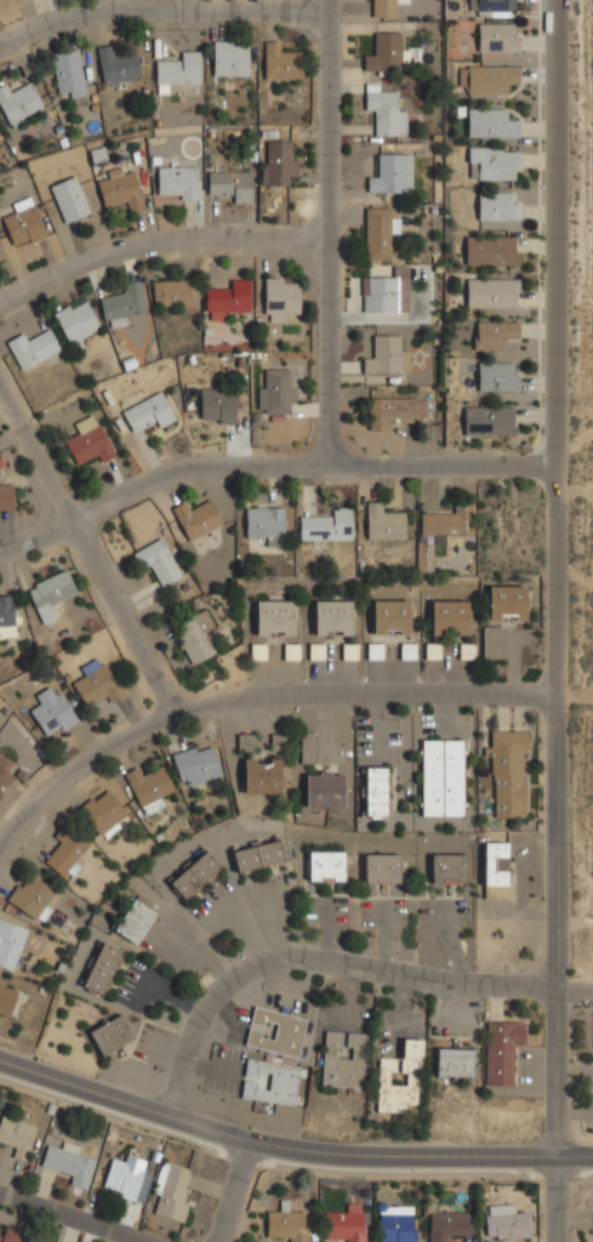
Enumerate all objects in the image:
road: (161, 6)
building: (494, 7)
building: (384, 8)
building: (500, 40)
building: (389, 52)
building: (232, 58)
building: (283, 63)
building: (118, 67)
building: (179, 70)
building: (70, 73)
building: (492, 79)
building: (21, 103)
building: (387, 107)
building: (492, 123)
building: (279, 163)
building: (495, 163)
building: (394, 173)
building: (179, 182)
building: (234, 183)
building: (121, 188)
building: (72, 199)
building: (501, 205)
building: (25, 222)
road: (331, 232)
building: (380, 232)
road: (159, 241)
building: (494, 250)
building: (2, 252)
building: (388, 292)
building: (177, 294)
building: (494, 294)
building: (281, 297)
building: (229, 300)
building: (124, 304)
building: (78, 321)
building: (496, 335)
building: (33, 347)
building: (387, 355)
building: (500, 376)
building: (278, 391)
building: (219, 405)
building: (398, 408)
building: (150, 411)
building: (491, 420)
building: (90, 440)
road: (308, 462)
building: (7, 497)
building: (198, 518)
building: (267, 522)
building: (445, 523)
building: (386, 524)
building: (329, 525)
road: (38, 540)
road: (90, 553)
building: (160, 562)
building: (51, 594)
building: (508, 603)
building: (8, 616)
building: (393, 616)
building: (276, 617)
building: (335, 617)
building: (450, 617)
road: (555, 621)
building: (196, 636)
building: (494, 642)
building: (99, 684)
road: (252, 700)
building: (55, 711)
building: (310, 747)
building: (198, 764)
building: (5, 774)
building: (511, 774)
building: (263, 775)
building: (444, 777)
building: (150, 787)
building: (326, 790)
building: (377, 792)
building: (104, 813)
road: (1, 842)
building: (64, 856)
building: (260, 856)
building: (326, 866)
building: (383, 868)
building: (450, 870)
building: (498, 871)
building: (195, 874)
building: (34, 896)
building: (136, 921)
building: (11, 942)
road: (318, 953)
building: (103, 968)
building: (6, 999)
building: (278, 1032)
building: (113, 1035)
building: (503, 1049)
building: (344, 1059)
building: (456, 1062)
building: (411, 1070)
building: (270, 1082)
building: (18, 1135)
road: (289, 1146)
building: (69, 1162)
building: (129, 1179)
building: (173, 1192)
road: (241, 1193)
road: (70, 1218)
building: (289, 1223)
building: (450, 1225)
building: (509, 1225)
building: (346, 1227)
building: (398, 1229)
building: (11, 1235)
building: (34, 1241)

